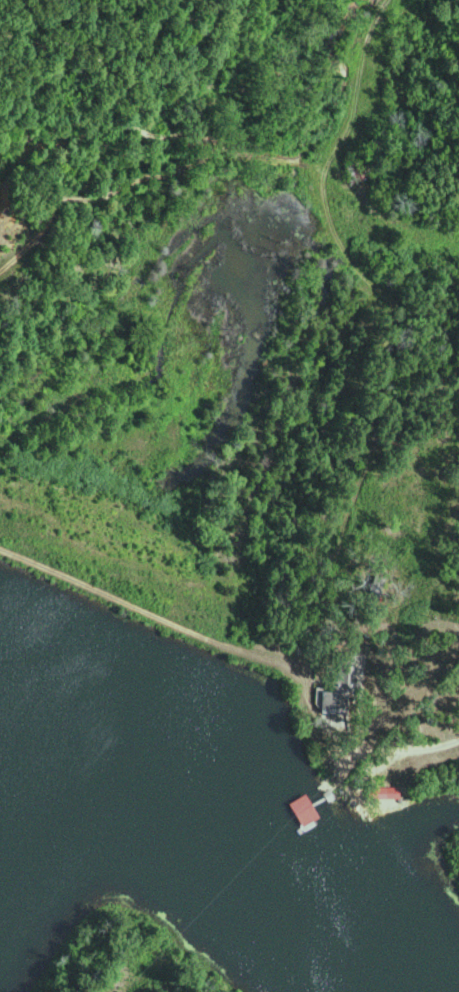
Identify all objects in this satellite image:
dam: (137, 618)
building: (347, 686)
building: (392, 791)
building: (311, 809)

